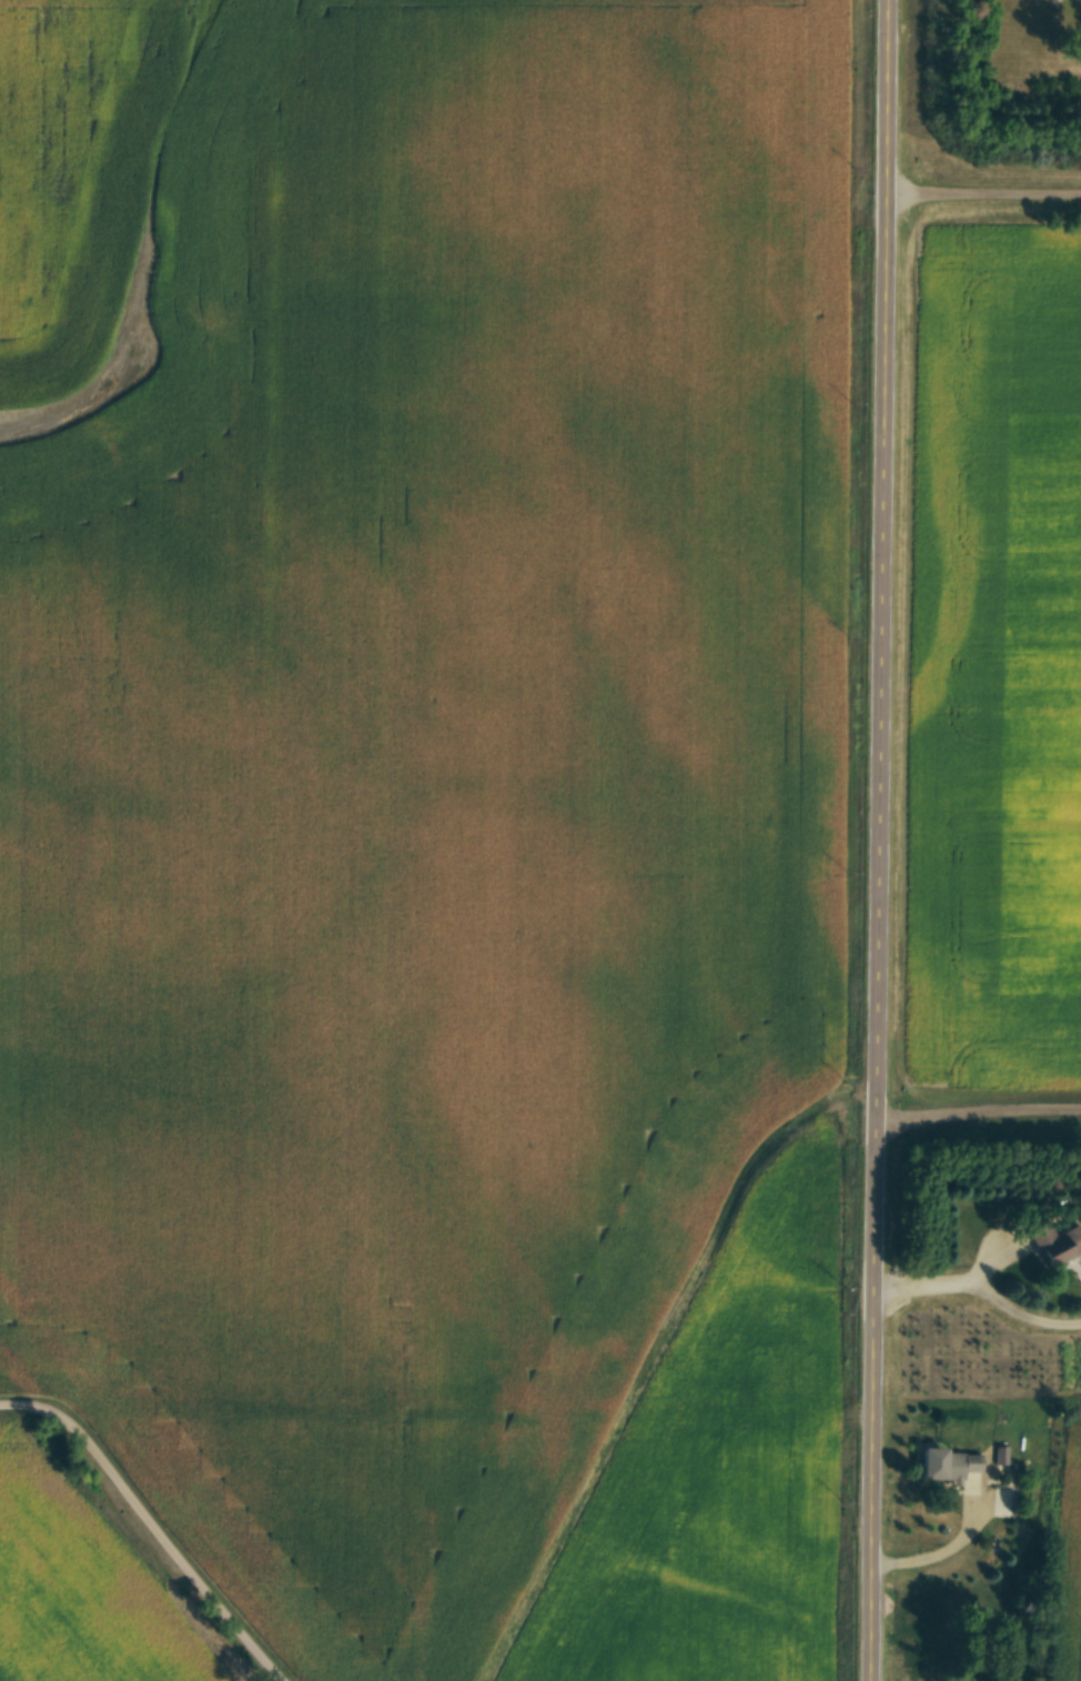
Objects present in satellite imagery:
road: (978, 193)
road: (871, 840)
road: (976, 1103)
building: (1053, 1239)
road: (976, 1279)
building: (946, 1463)
road: (140, 1530)

